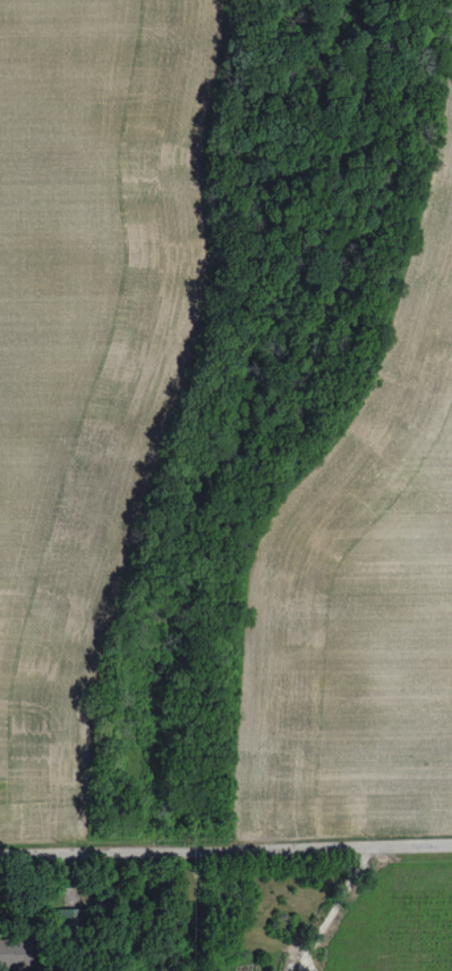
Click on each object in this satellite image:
road: (225, 837)
road: (340, 896)
building: (70, 918)
building: (13, 952)
road: (300, 961)
road: (309, 962)

